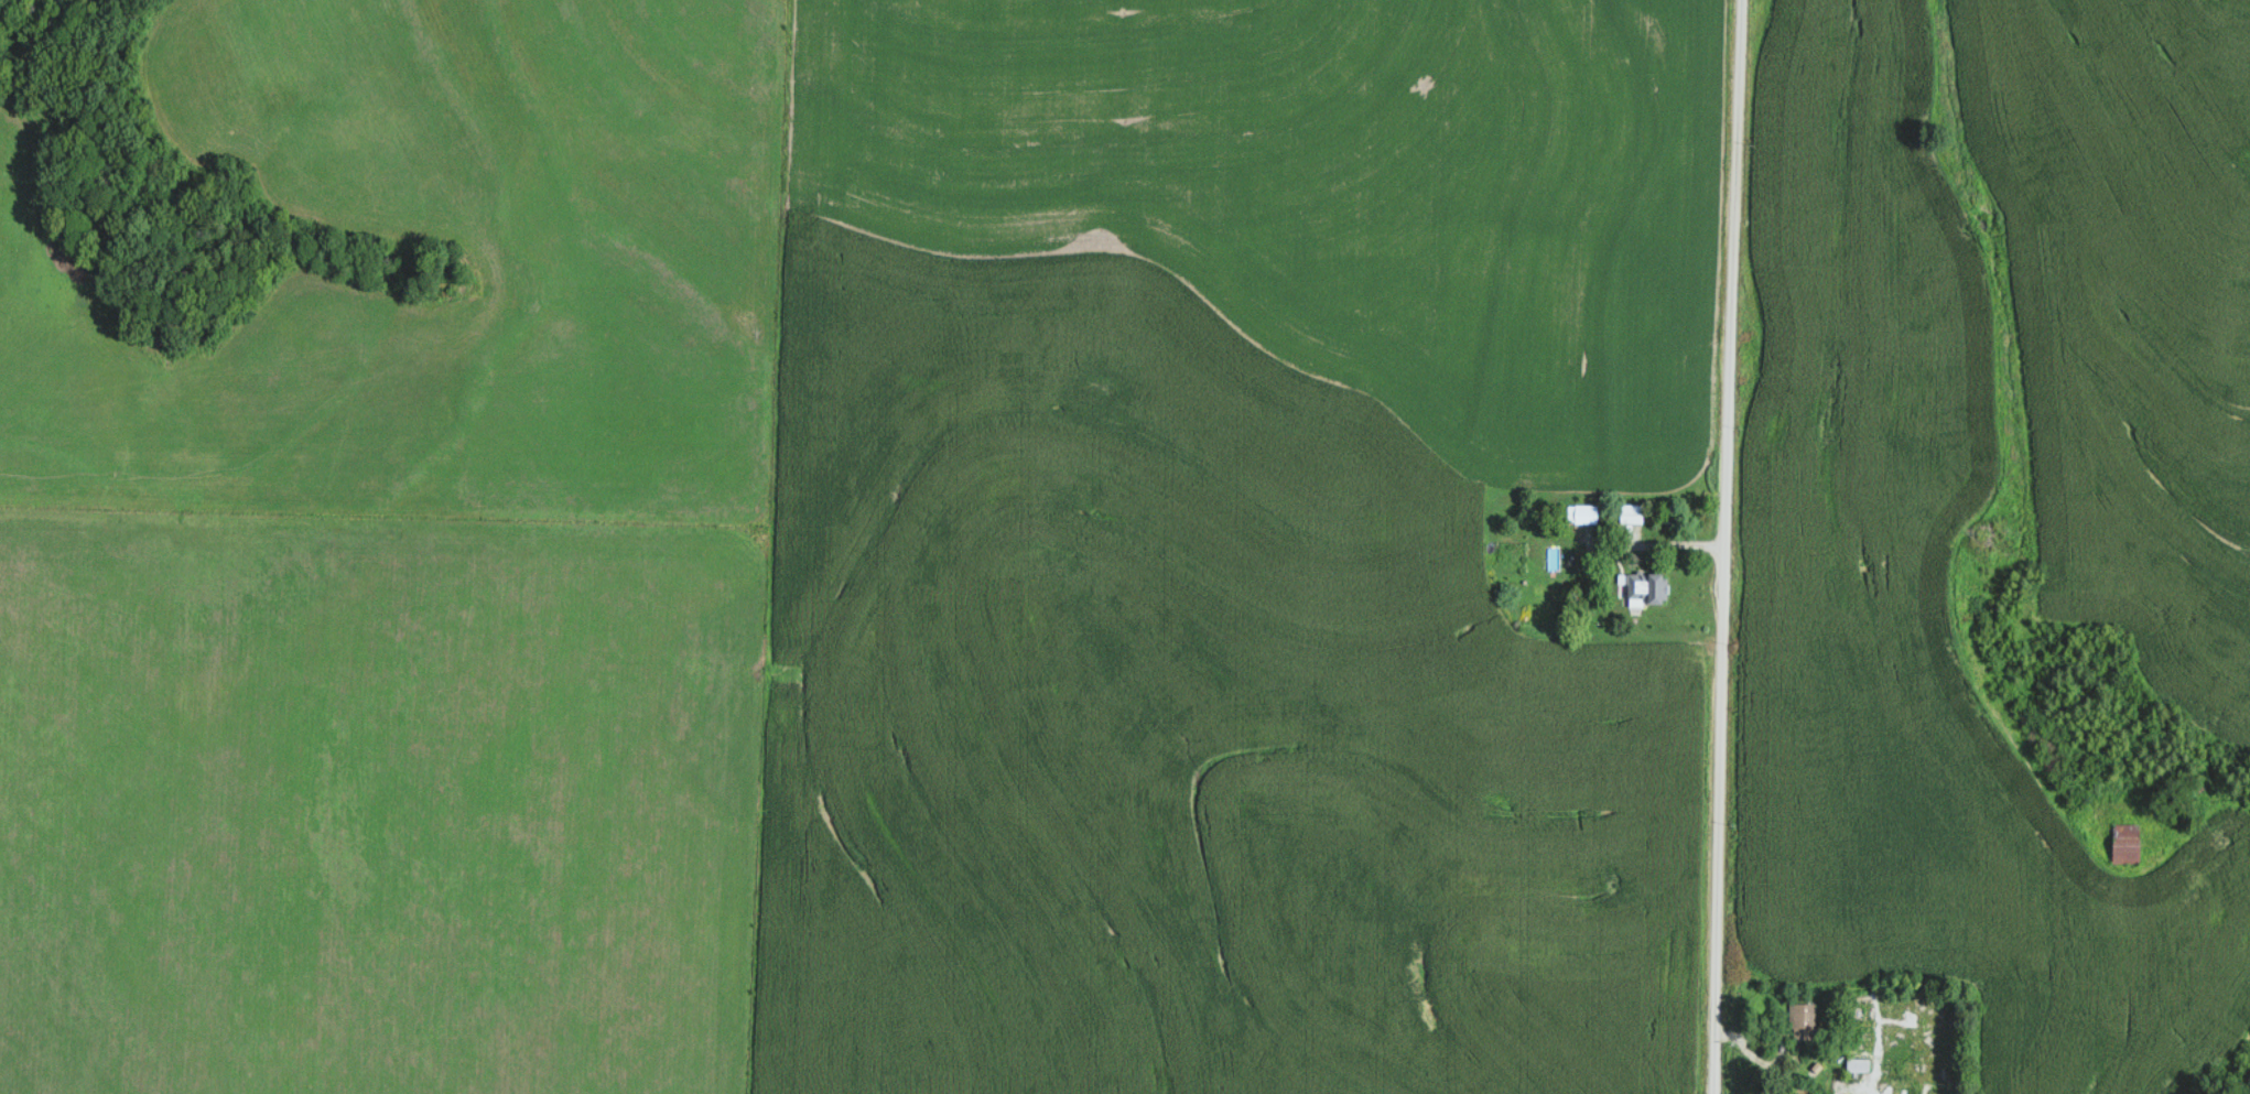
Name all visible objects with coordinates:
building: (1588, 513)
building: (1633, 513)
road: (1724, 546)
building: (1648, 587)
building: (2131, 843)
building: (1804, 1019)
road: (1785, 1071)

